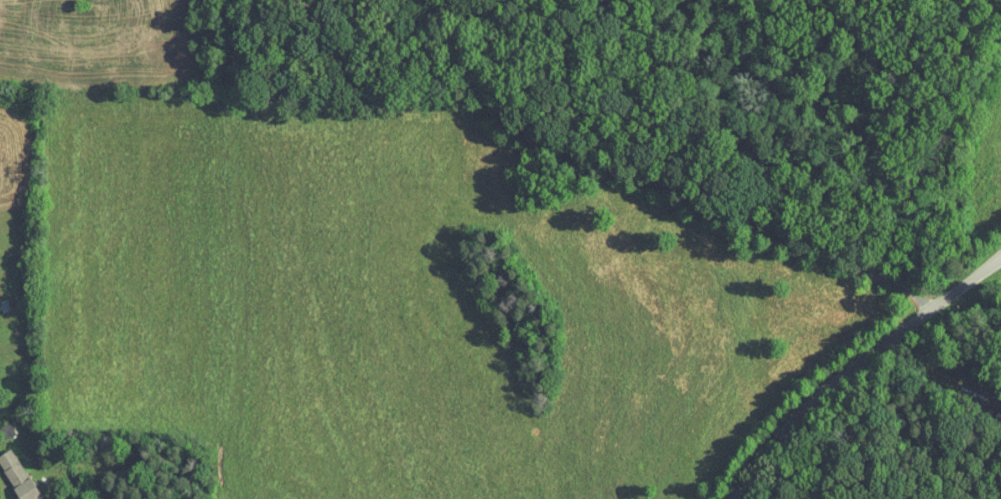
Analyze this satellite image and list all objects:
road: (984, 266)
road: (816, 269)
road: (835, 377)
building: (19, 475)

